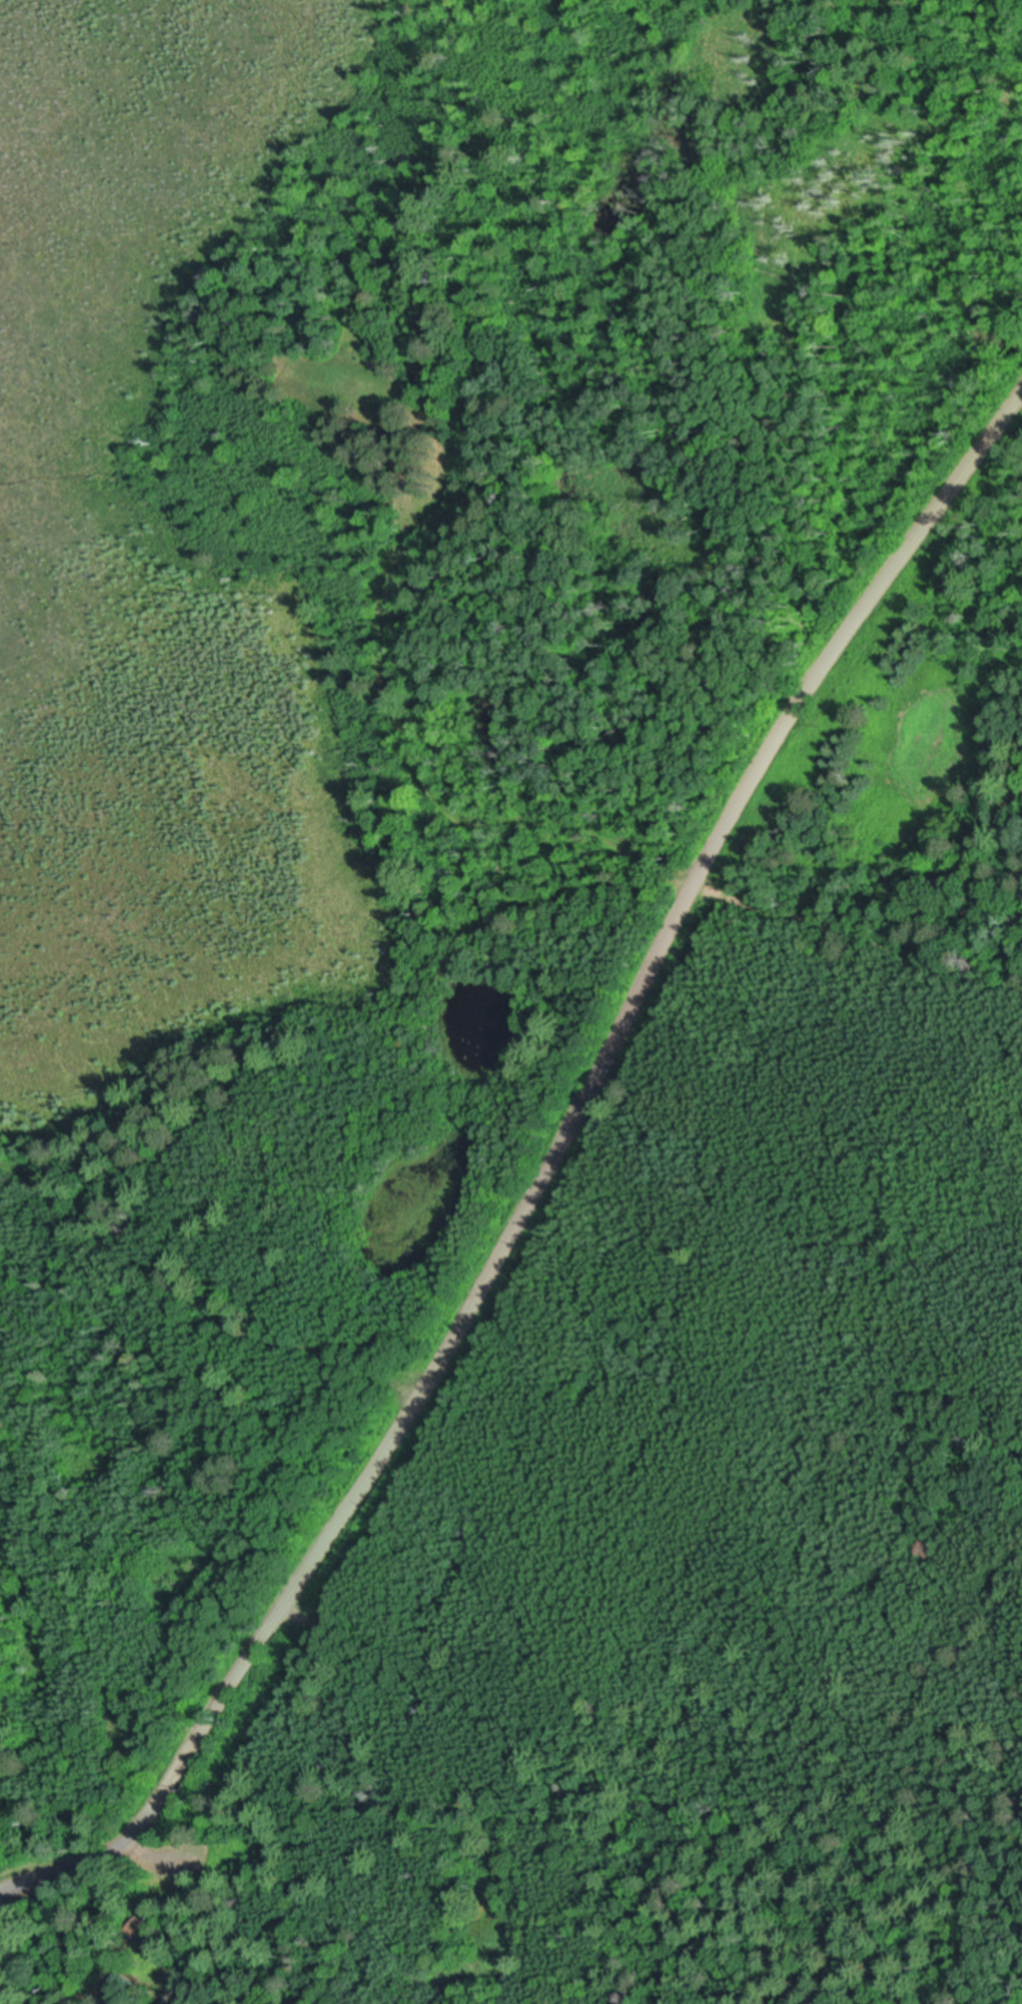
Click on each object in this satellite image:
road: (859, 936)
road: (543, 1169)
road: (8, 1893)

